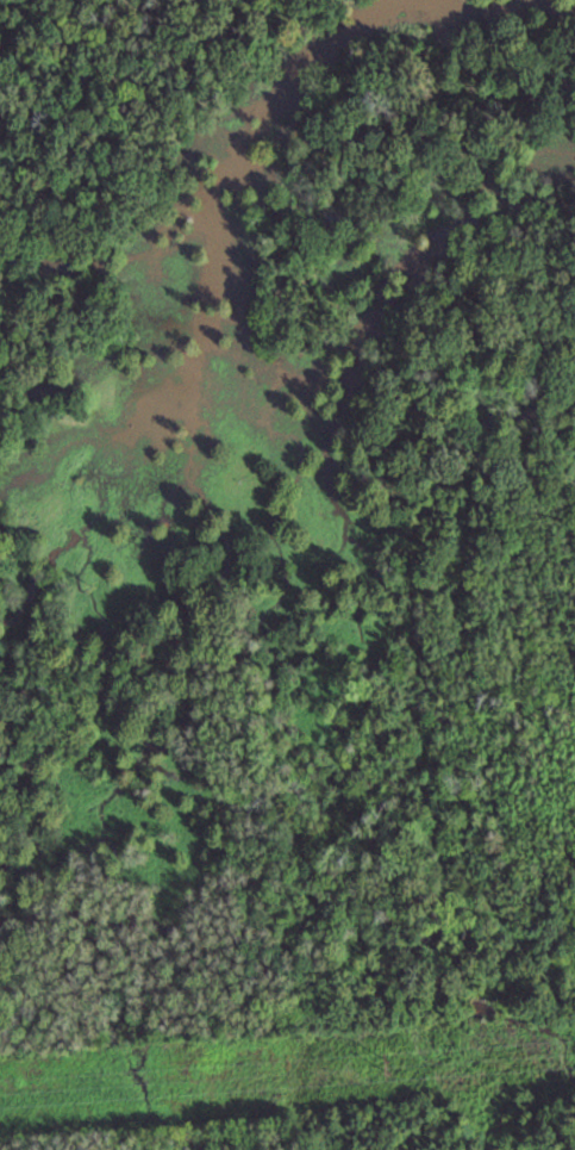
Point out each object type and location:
power tower: (392, 1067)

